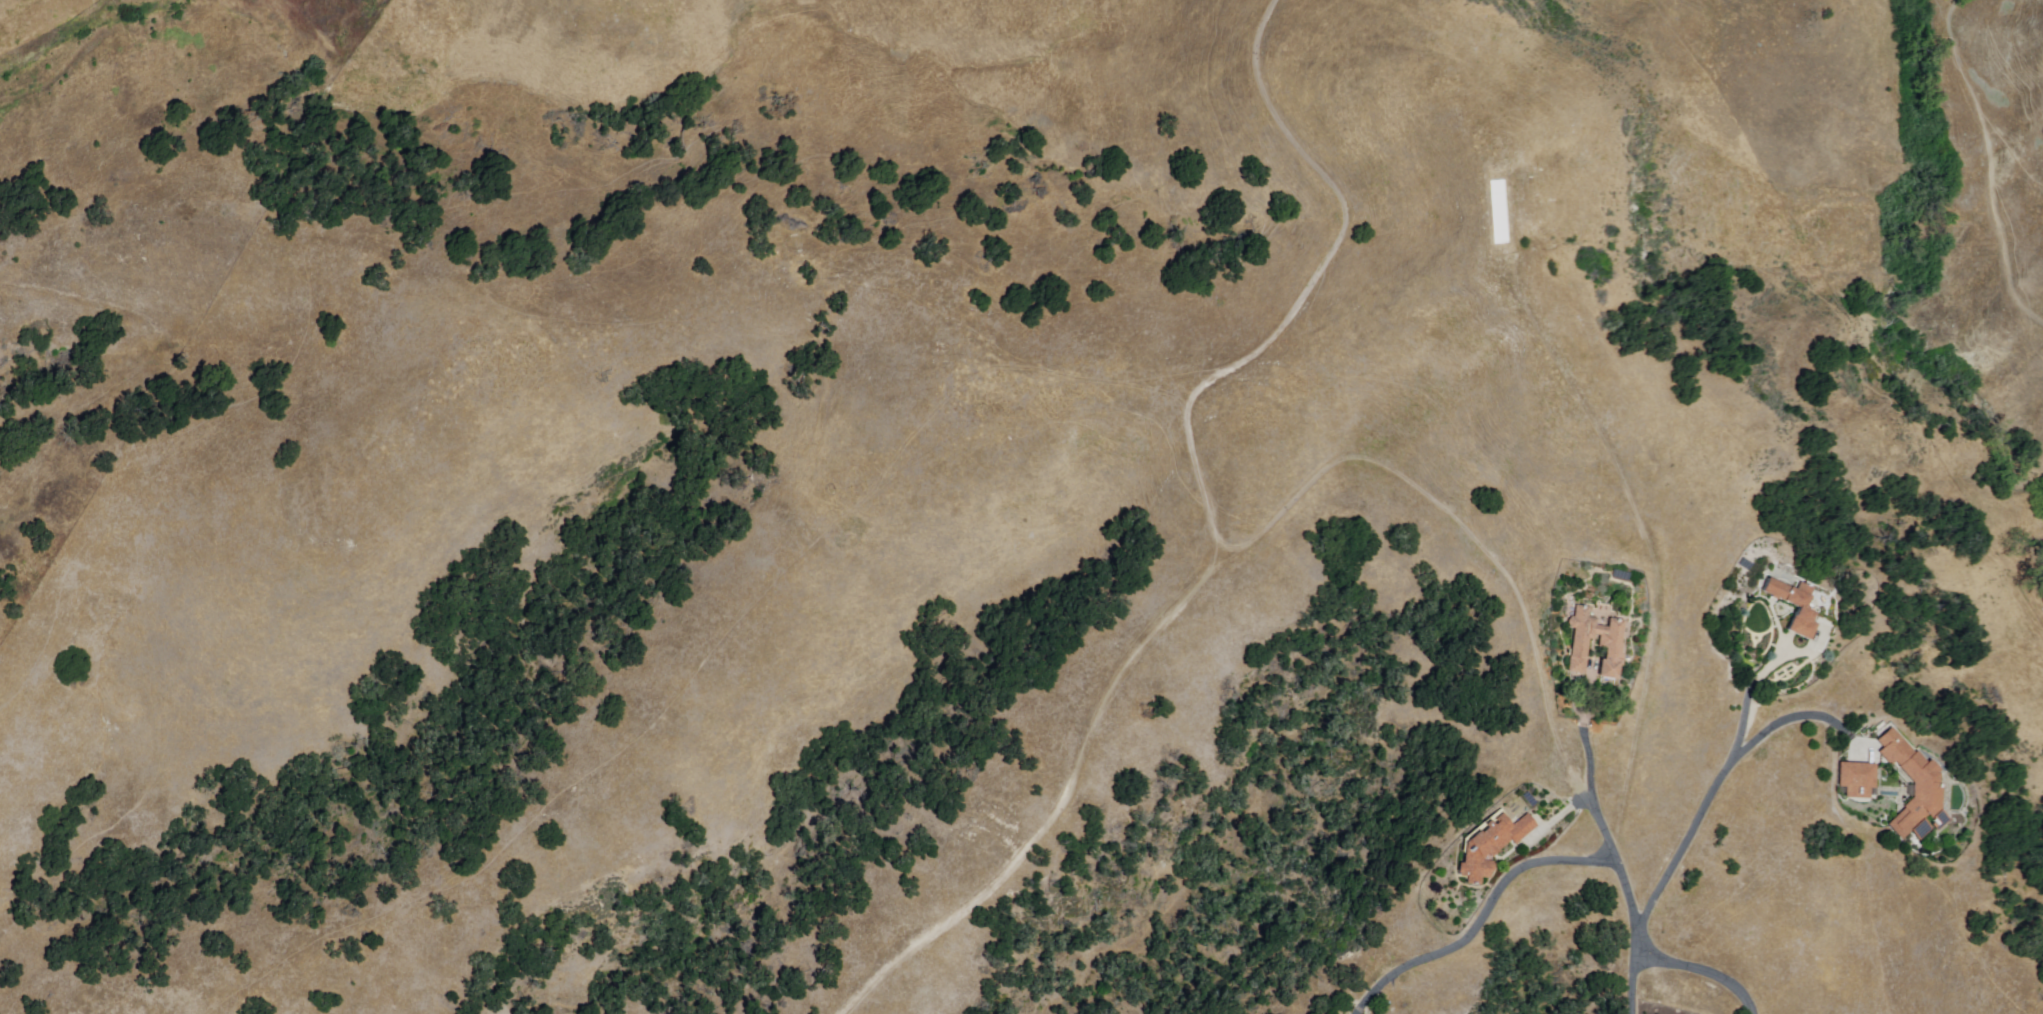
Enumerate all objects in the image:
road: (1989, 165)
road: (1314, 287)
road: (1221, 562)
building: (1792, 607)
building: (1609, 643)
road: (1751, 695)
road: (1793, 721)
road: (1590, 769)
building: (1856, 781)
building: (1914, 788)
road: (1688, 841)
building: (1489, 848)
road: (1483, 920)
road: (1638, 935)
road: (1634, 982)

